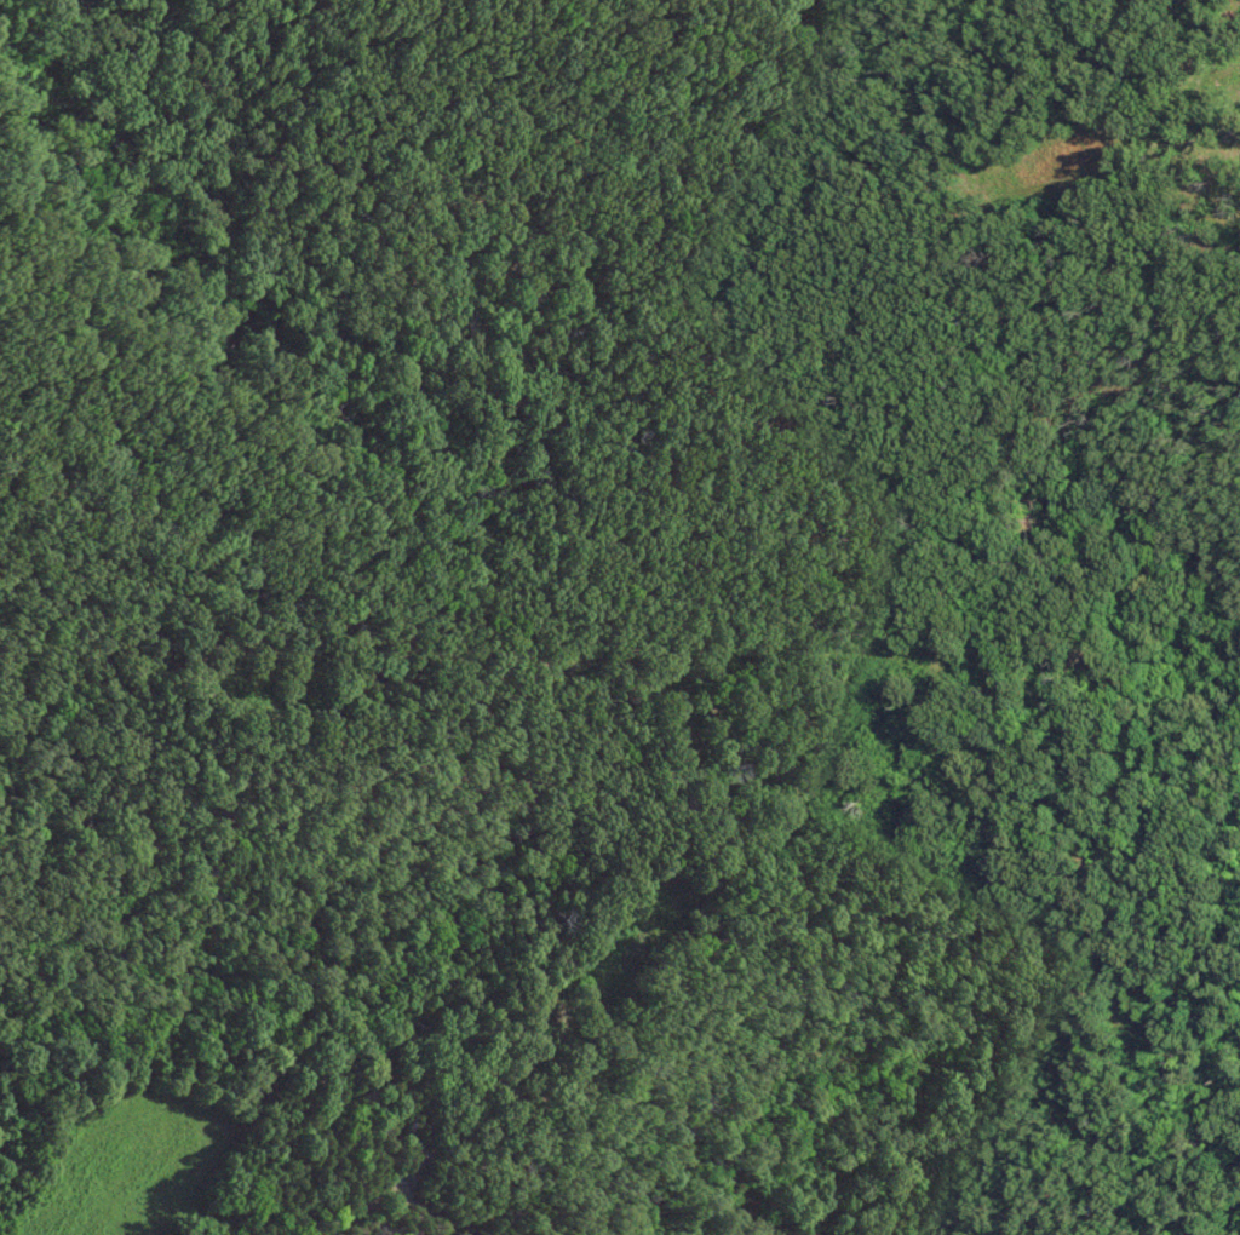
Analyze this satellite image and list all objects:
road: (1173, 134)

